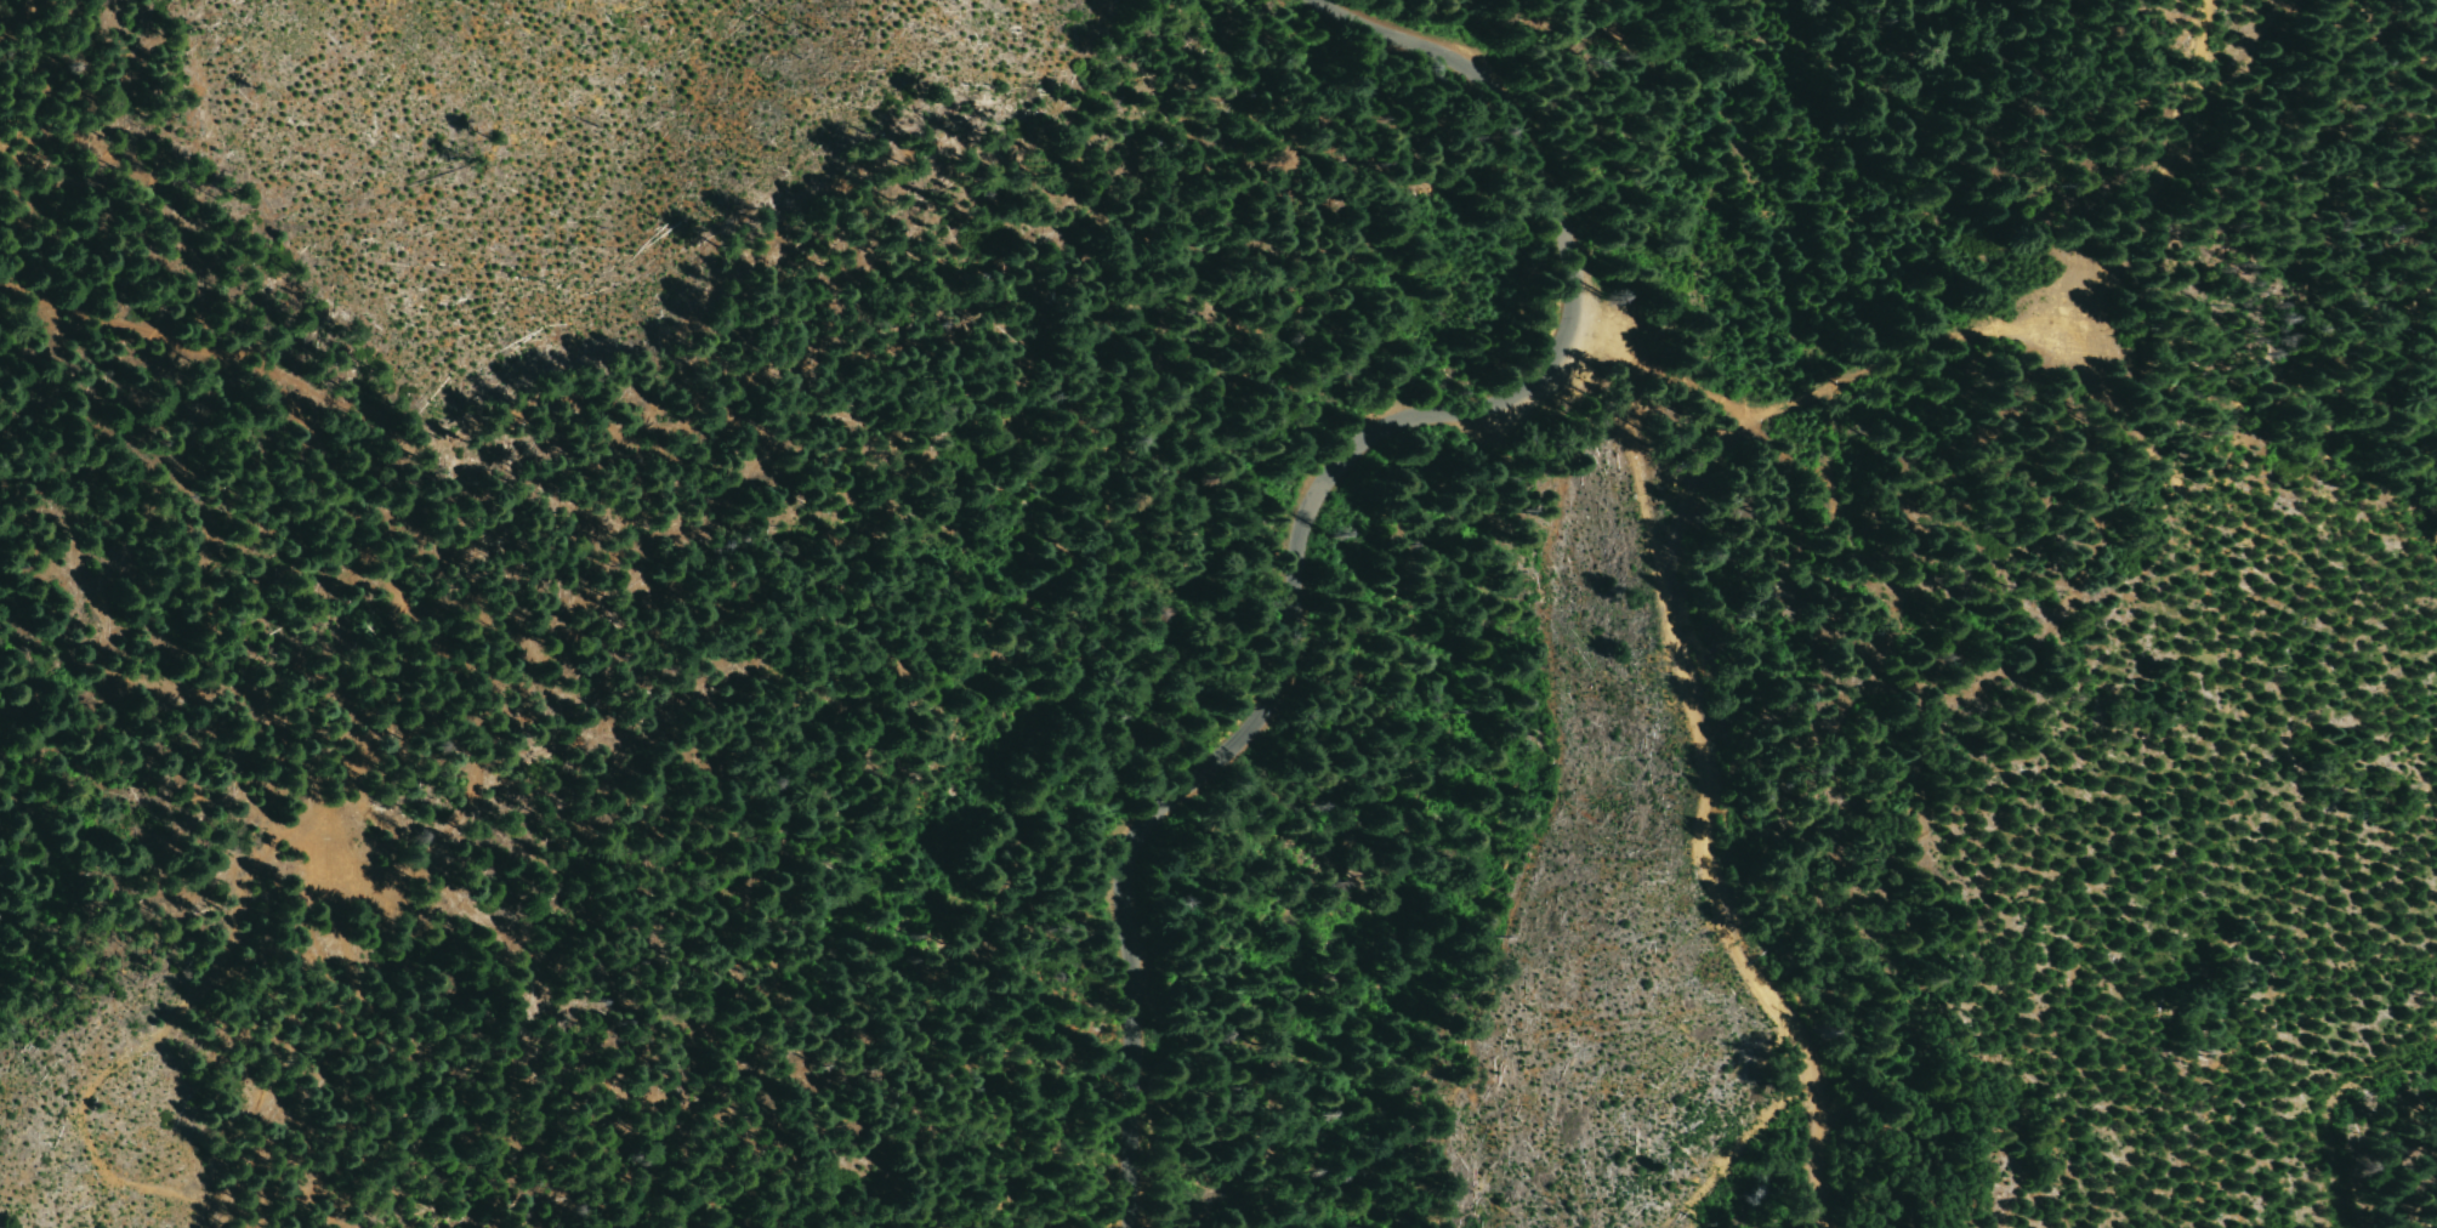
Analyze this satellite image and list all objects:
road: (70, 194)
road: (1313, 504)

